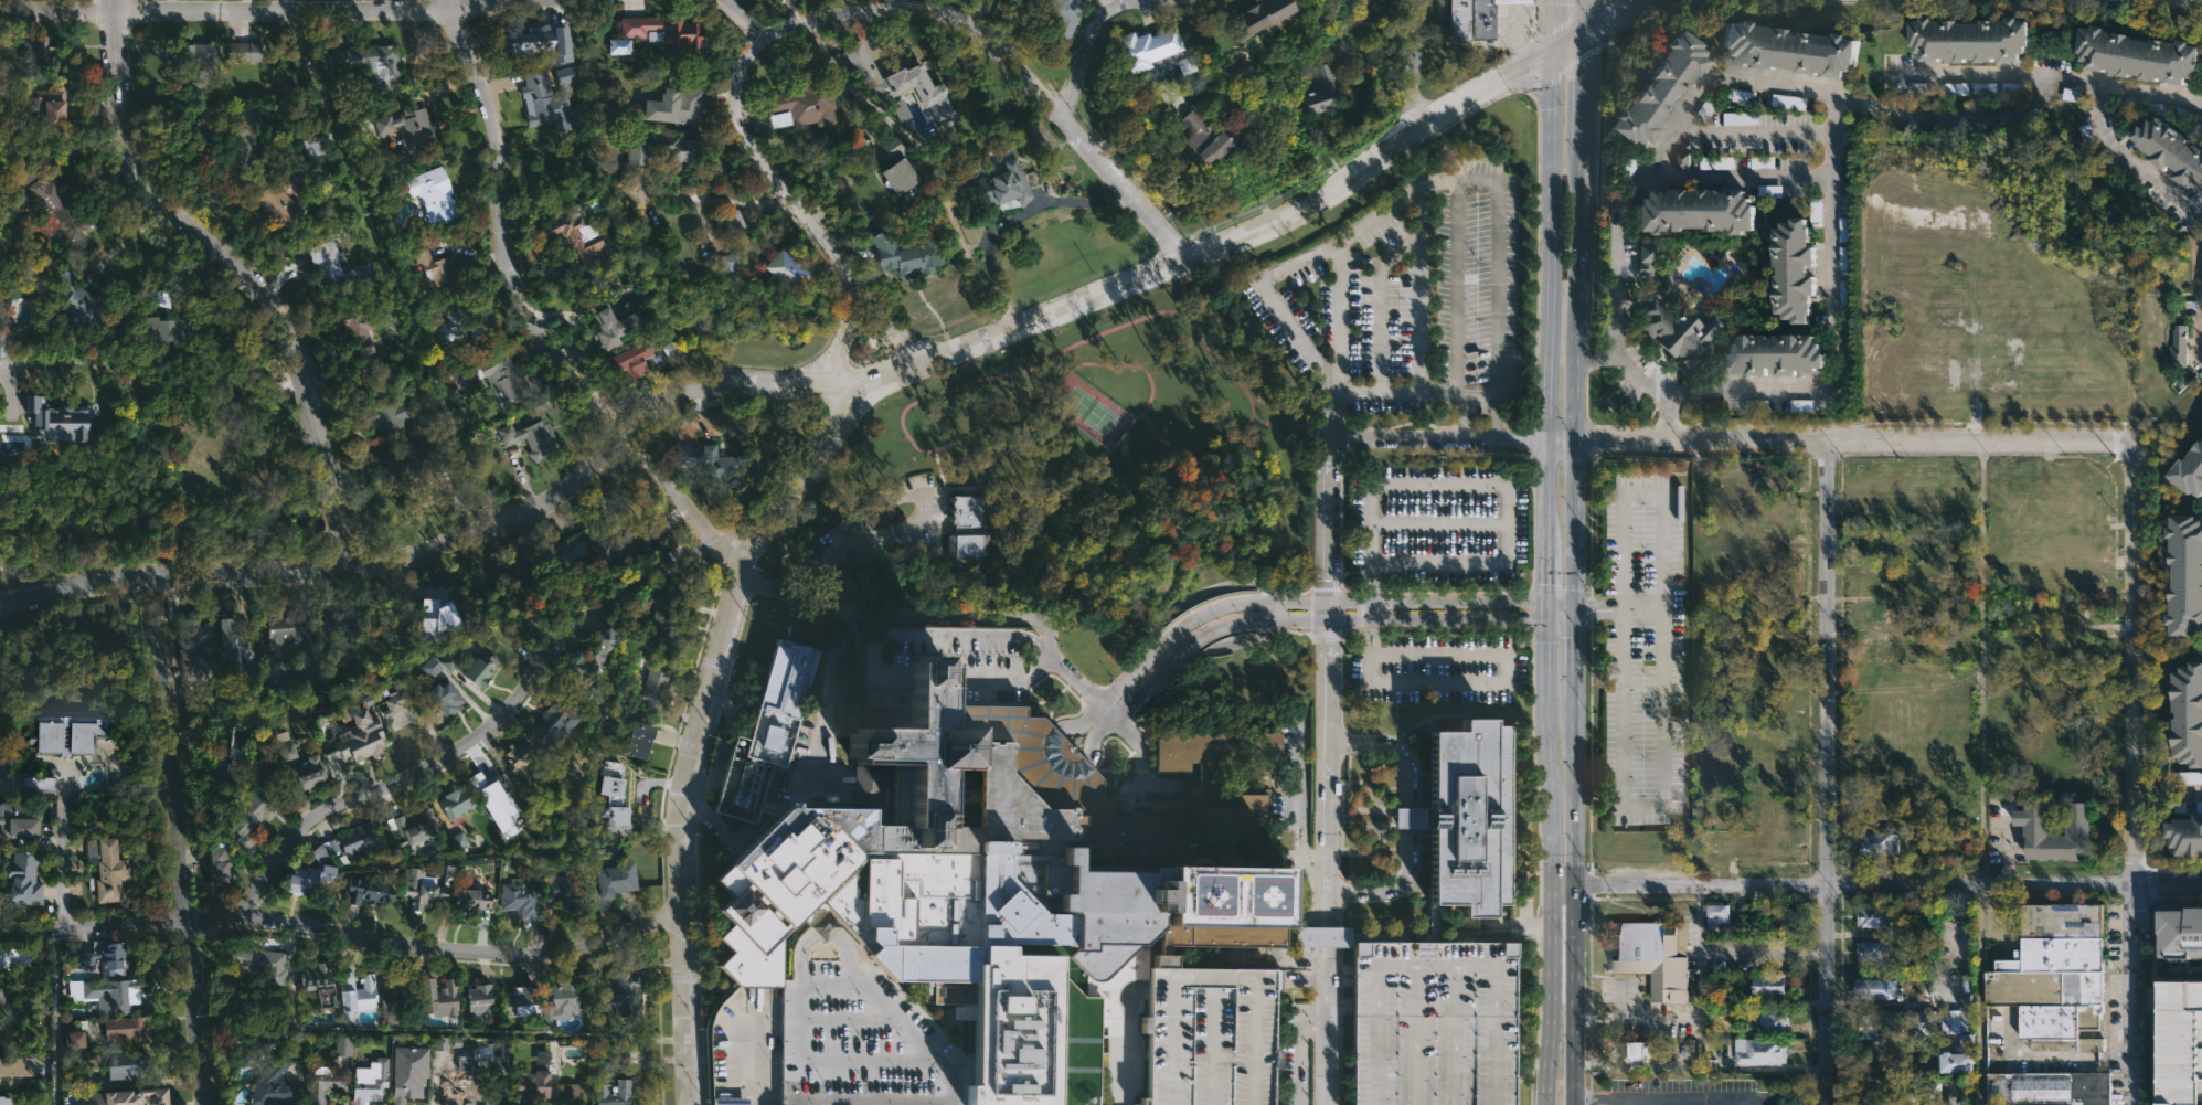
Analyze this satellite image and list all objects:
road: (892, 4)
road: (286, 6)
road: (285, 12)
building: (1257, 13)
building: (1062, 14)
road: (1583, 14)
road: (1613, 14)
building: (1485, 18)
road: (736, 19)
road: (823, 19)
building: (1458, 21)
road: (1551, 25)
traffic signals: (1583, 30)
building: (678, 31)
road: (1515, 38)
road: (1566, 40)
building: (540, 42)
building: (1970, 42)
road: (1089, 43)
building: (619, 46)
building: (1146, 47)
building: (36, 50)
building: (1787, 50)
building: (241, 51)
traffic signals: (1550, 51)
building: (2142, 54)
building: (189, 60)
building: (365, 63)
building: (1184, 65)
road: (1414, 66)
building: (1244, 75)
road: (2047, 77)
building: (896, 78)
road: (1525, 82)
road: (1581, 83)
building: (0, 84)
building: (2011, 87)
building: (1983, 88)
building: (1321, 89)
road: (1535, 94)
building: (1657, 95)
building: (1744, 96)
building: (545, 98)
building: (1788, 102)
building: (42, 103)
building: (672, 105)
building: (800, 105)
road: (1055, 108)
road: (1128, 109)
building: (628, 110)
road: (1885, 111)
building: (407, 128)
road: (1752, 128)
building: (1213, 134)
building: (307, 138)
building: (237, 146)
building: (661, 147)
building: (2174, 147)
building: (1683, 160)
building: (1717, 162)
building: (895, 163)
road: (1735, 176)
road: (1461, 179)
building: (1001, 184)
building: (430, 193)
road: (715, 198)
road: (1618, 203)
building: (56, 204)
building: (280, 204)
road: (799, 210)
road: (2183, 212)
building: (1692, 215)
road: (1009, 217)
building: (733, 220)
building: (576, 236)
road: (125, 243)
road: (1216, 246)
building: (905, 254)
building: (728, 262)
building: (1642, 262)
building: (329, 264)
building: (432, 265)
building: (1797, 266)
road: (240, 267)
building: (785, 267)
road: (1419, 288)
building: (1741, 290)
road: (514, 302)
building: (82, 304)
road: (1545, 304)
road: (880, 310)
road: (1341, 316)
road: (2201, 320)
building: (611, 321)
road: (1836, 323)
building: (461, 325)
building: (159, 330)
building: (354, 332)
building: (1681, 333)
building: (2, 344)
building: (2179, 347)
building: (1775, 352)
road: (1594, 361)
building: (630, 362)
road: (1574, 370)
building: (500, 379)
road: (1635, 386)
road: (146, 389)
park: (1081, 404)
building: (1802, 405)
building: (395, 412)
road: (1670, 418)
building: (64, 423)
building: (529, 437)
road: (1436, 437)
road: (1560, 439)
road: (1853, 446)
building: (414, 463)
building: (711, 463)
building: (2191, 471)
road: (1485, 487)
road: (1642, 490)
road: (924, 500)
parking lot: (1437, 523)
building: (969, 531)
building: (1879, 543)
building: (613, 545)
road: (451, 548)
road: (823, 562)
building: (2189, 575)
road: (1543, 580)
road: (1302, 603)
traffic signals: (1543, 603)
road: (1559, 603)
traffic signals: (1574, 603)
road: (1599, 603)
road: (1543, 610)
road: (1574, 610)
road: (1642, 610)
road: (1265, 612)
building: (1883, 613)
road: (1008, 615)
road: (1599, 617)
building: (436, 618)
building: (662, 618)
traffic signals: (1543, 618)
road: (1559, 618)
traffic signals: (1574, 618)
road: (1309, 620)
building: (341, 625)
building: (283, 634)
building: (223, 635)
building: (190, 642)
building: (1885, 642)
parking lot: (1643, 649)
road: (1574, 657)
building: (589, 661)
building: (448, 662)
road: (2135, 666)
building: (430, 667)
road: (1981, 667)
parking lot: (1438, 669)
building: (309, 671)
building: (479, 671)
road: (1014, 681)
road: (1478, 682)
building: (655, 683)
building: (578, 687)
road: (827, 691)
building: (440, 703)
building: (2191, 716)
road: (489, 722)
building: (550, 725)
road: (703, 727)
building: (766, 731)
building: (365, 733)
building: (61, 735)
building: (638, 741)
road: (723, 743)
road: (1391, 746)
building: (280, 747)
building: (221, 755)
building: (518, 762)
road: (1327, 769)
building: (305, 774)
road: (1823, 776)
building: (2187, 777)
building: (23, 782)
building: (493, 796)
building: (610, 796)
building: (454, 801)
road: (1641, 807)
building: (2199, 807)
road: (1298, 808)
building: (252, 814)
building: (14, 817)
road: (1407, 817)
building: (412, 828)
building: (2040, 830)
building: (1456, 831)
building: (2188, 837)
road: (180, 839)
building: (353, 840)
building: (457, 840)
building: (1881, 843)
building: (1770, 844)
building: (1715, 847)
road: (2007, 849)
building: (319, 853)
road: (1550, 861)
road: (62, 864)
building: (219, 865)
building: (105, 873)
building: (615, 876)
building: (307, 881)
building: (1009, 881)
building: (18, 883)
building: (421, 888)
building: (365, 889)
building: (553, 889)
road: (1391, 889)
road: (2169, 889)
road: (1842, 890)
building: (470, 899)
helipad: (1205, 899)
building: (519, 900)
helipad: (1262, 900)
road: (1573, 900)
building: (1719, 914)
building: (1876, 914)
building: (1784, 920)
building: (2184, 928)
road: (344, 939)
building: (1875, 949)
building: (1655, 956)
building: (13, 959)
building: (99, 959)
building: (253, 960)
road: (1340, 970)
building: (315, 976)
building: (2057, 980)
road: (1304, 981)
road: (1340, 981)
building: (1769, 986)
building: (1875, 989)
building: (628, 990)
building: (2, 991)
building: (354, 994)
building: (104, 995)
building: (325, 996)
road: (1979, 997)
road: (2137, 997)
building: (479, 998)
building: (555, 998)
building: (395, 1000)
building: (440, 1000)
building: (520, 1001)
building: (236, 1002)
road: (1340, 1007)
building: (315, 1016)
road: (1699, 1016)
road: (53, 1019)
building: (4, 1023)
building: (1434, 1023)
parking garage: (1434, 1023)
building: (1775, 1023)
building: (1896, 1023)
building: (121, 1029)
building: (1962, 1032)
building: (1210, 1035)
parking garage: (1210, 1035)
building: (75, 1039)
building: (2182, 1042)
building: (342, 1045)
road: (1300, 1045)
building: (1763, 1050)
building: (244, 1051)
building: (1636, 1052)
building: (1959, 1056)
road: (848, 1061)
road: (751, 1062)
building: (126, 1064)
road: (1623, 1067)
building: (605, 1072)
road: (954, 1073)
building: (3, 1074)
building: (454, 1077)
building: (370, 1080)
building: (321, 1083)
building: (273, 1085)
building: (408, 1085)
building: (531, 1085)
building: (1934, 1088)
building: (2052, 1090)
building: (570, 1091)
building: (128, 1097)
building: (3, 1099)
road: (871, 1101)
building: (1140, 1101)
road: (1626, 1104)
road: (1661, 1104)

